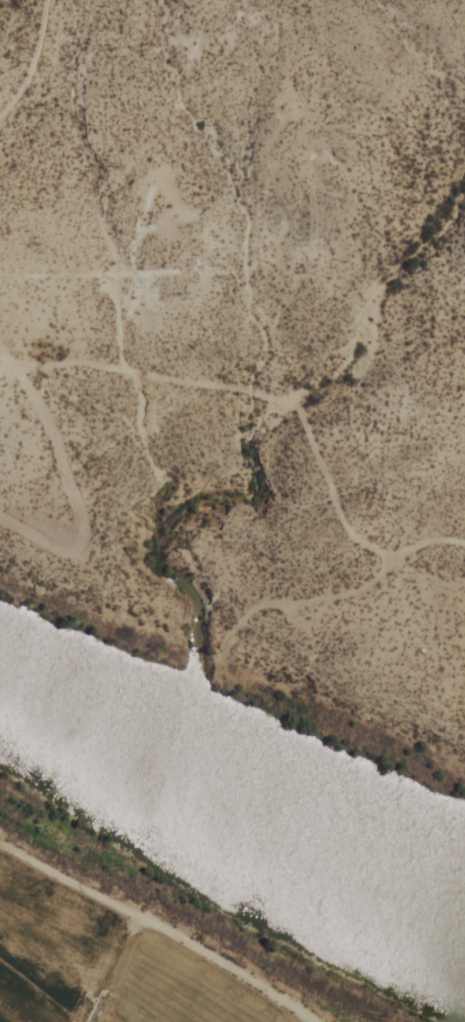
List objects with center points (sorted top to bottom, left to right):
road: (33, 62)
road: (67, 480)
river: (242, 786)

